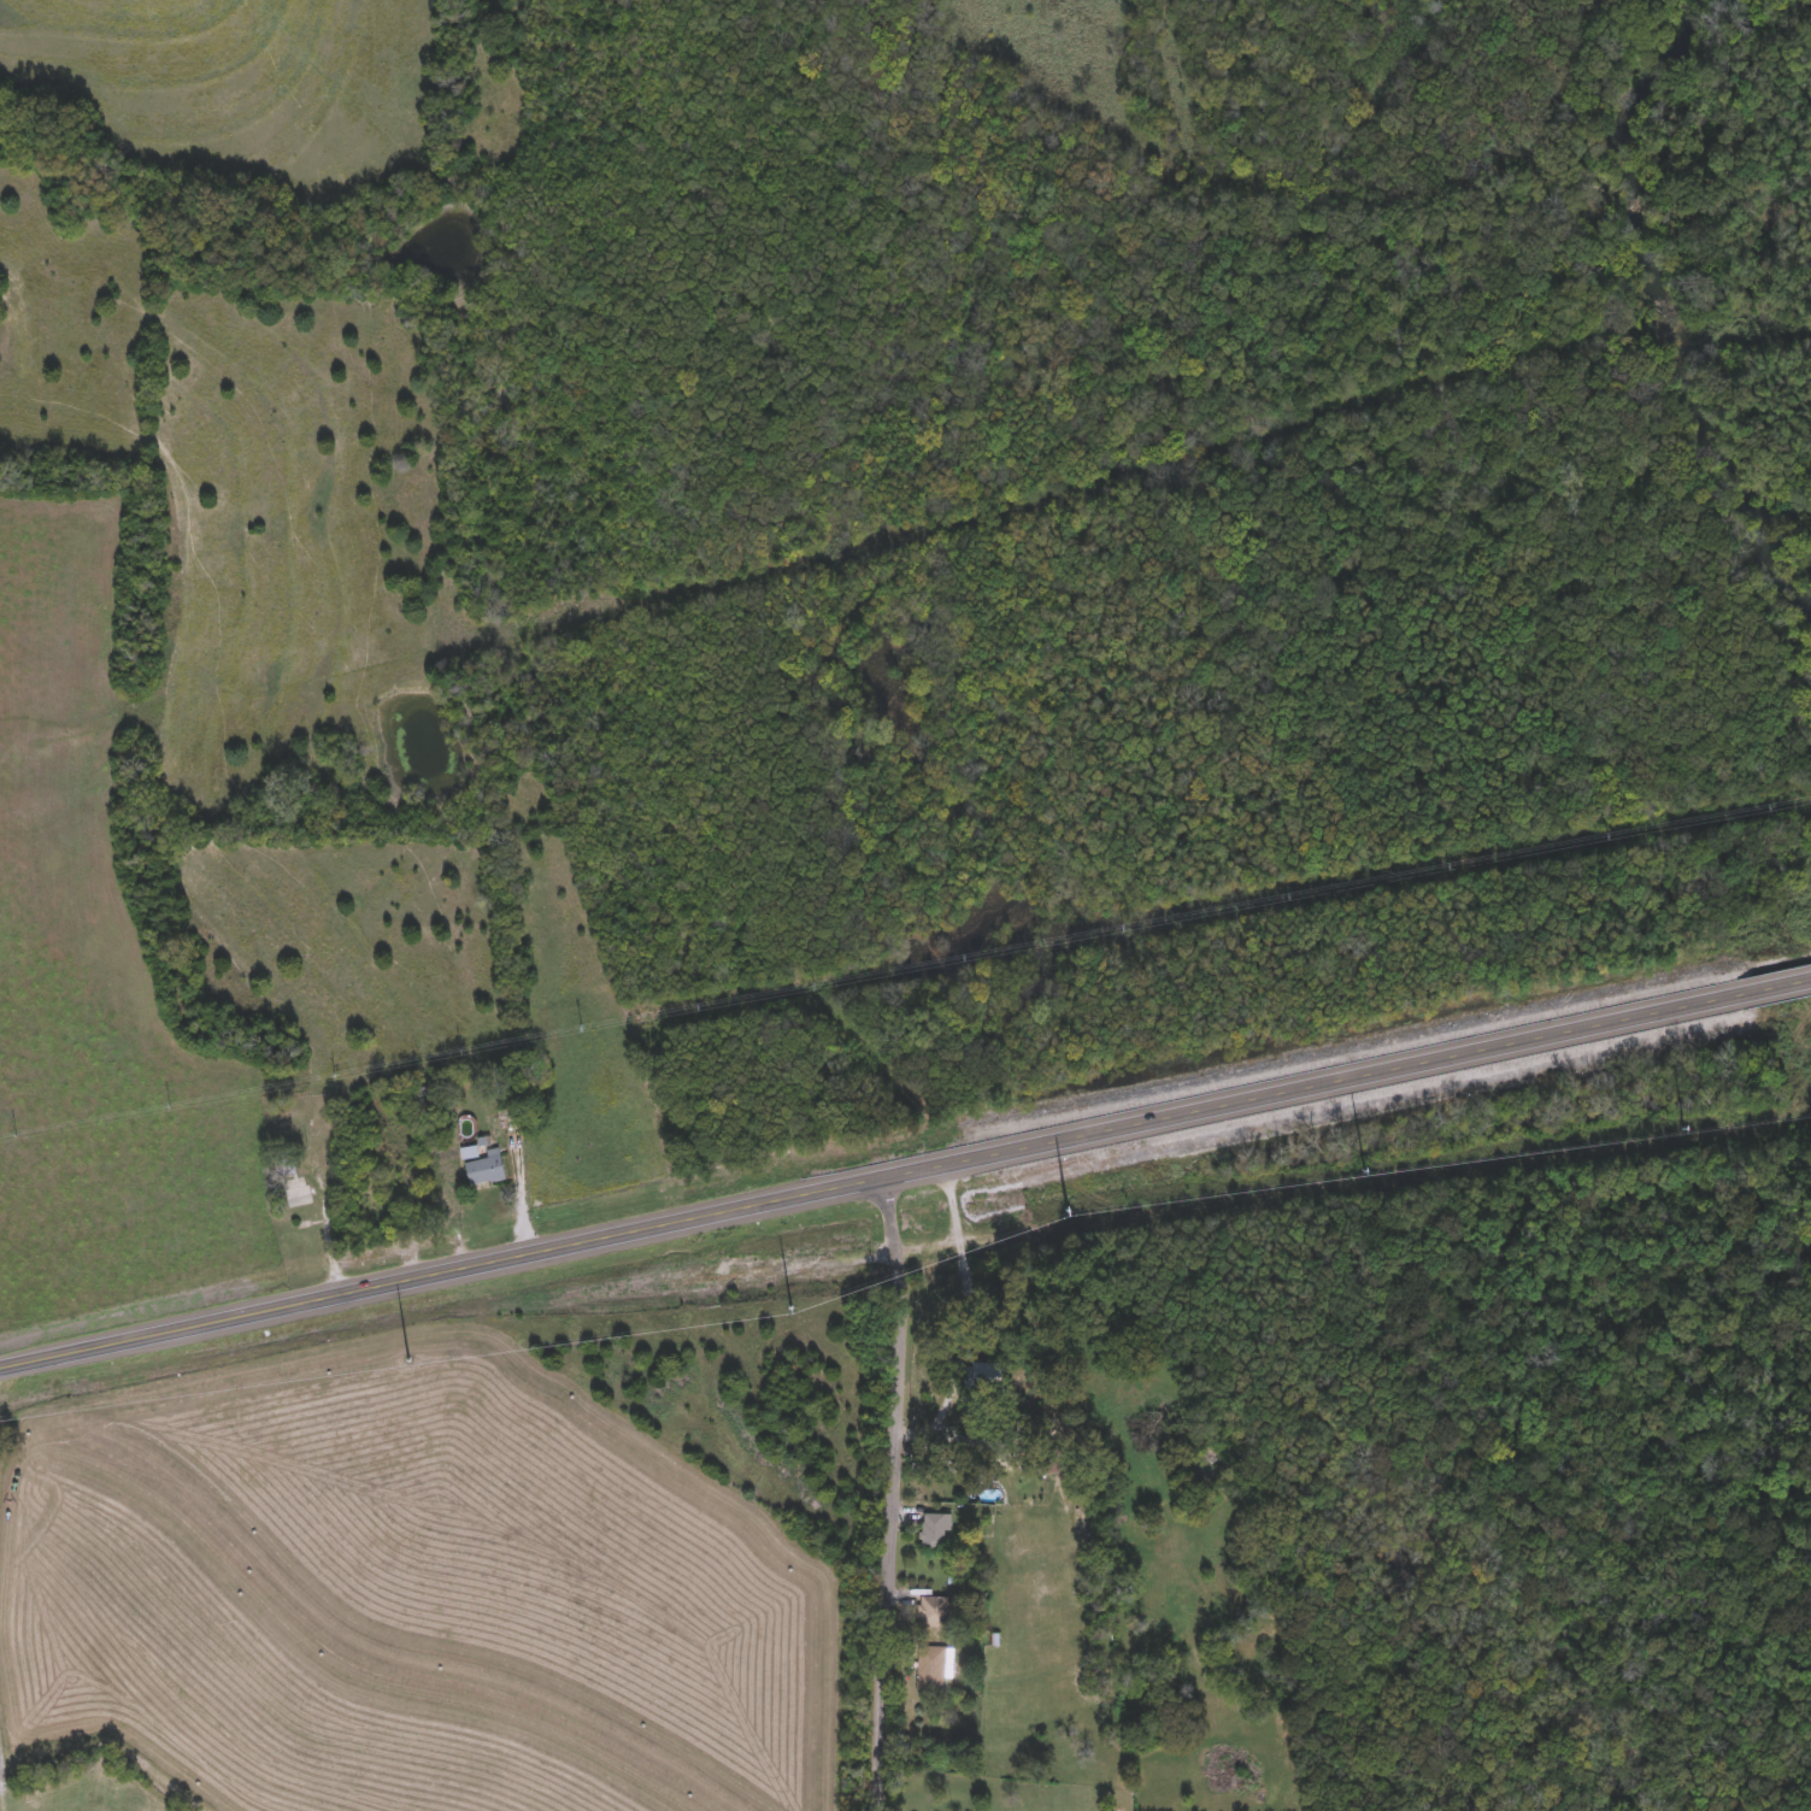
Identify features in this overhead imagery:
building: (484, 1169)
road: (904, 1169)
building: (300, 1206)
road: (969, 1317)
building: (986, 1376)
road: (898, 1492)
building: (935, 1534)
building: (933, 1613)
building: (931, 1670)

